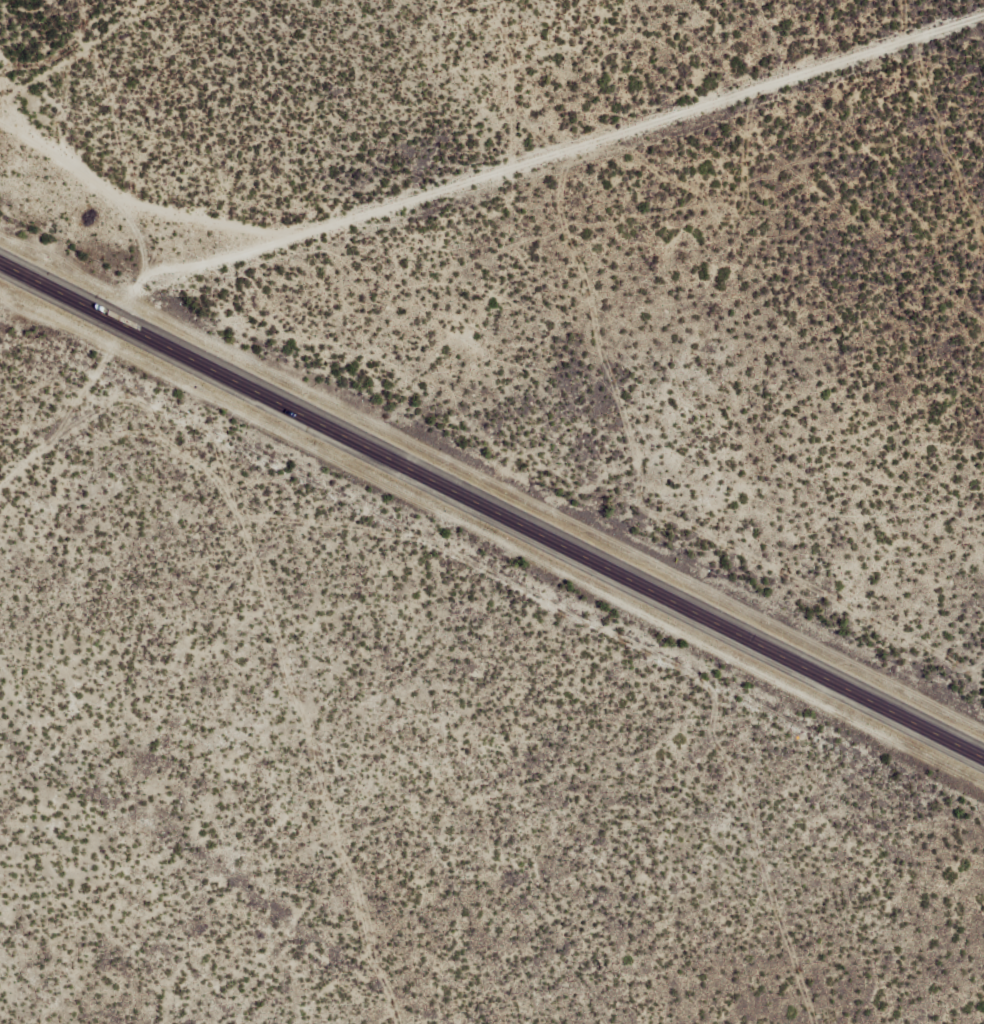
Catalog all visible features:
road: (790, 54)
road: (98, 160)
road: (547, 185)
road: (492, 505)

